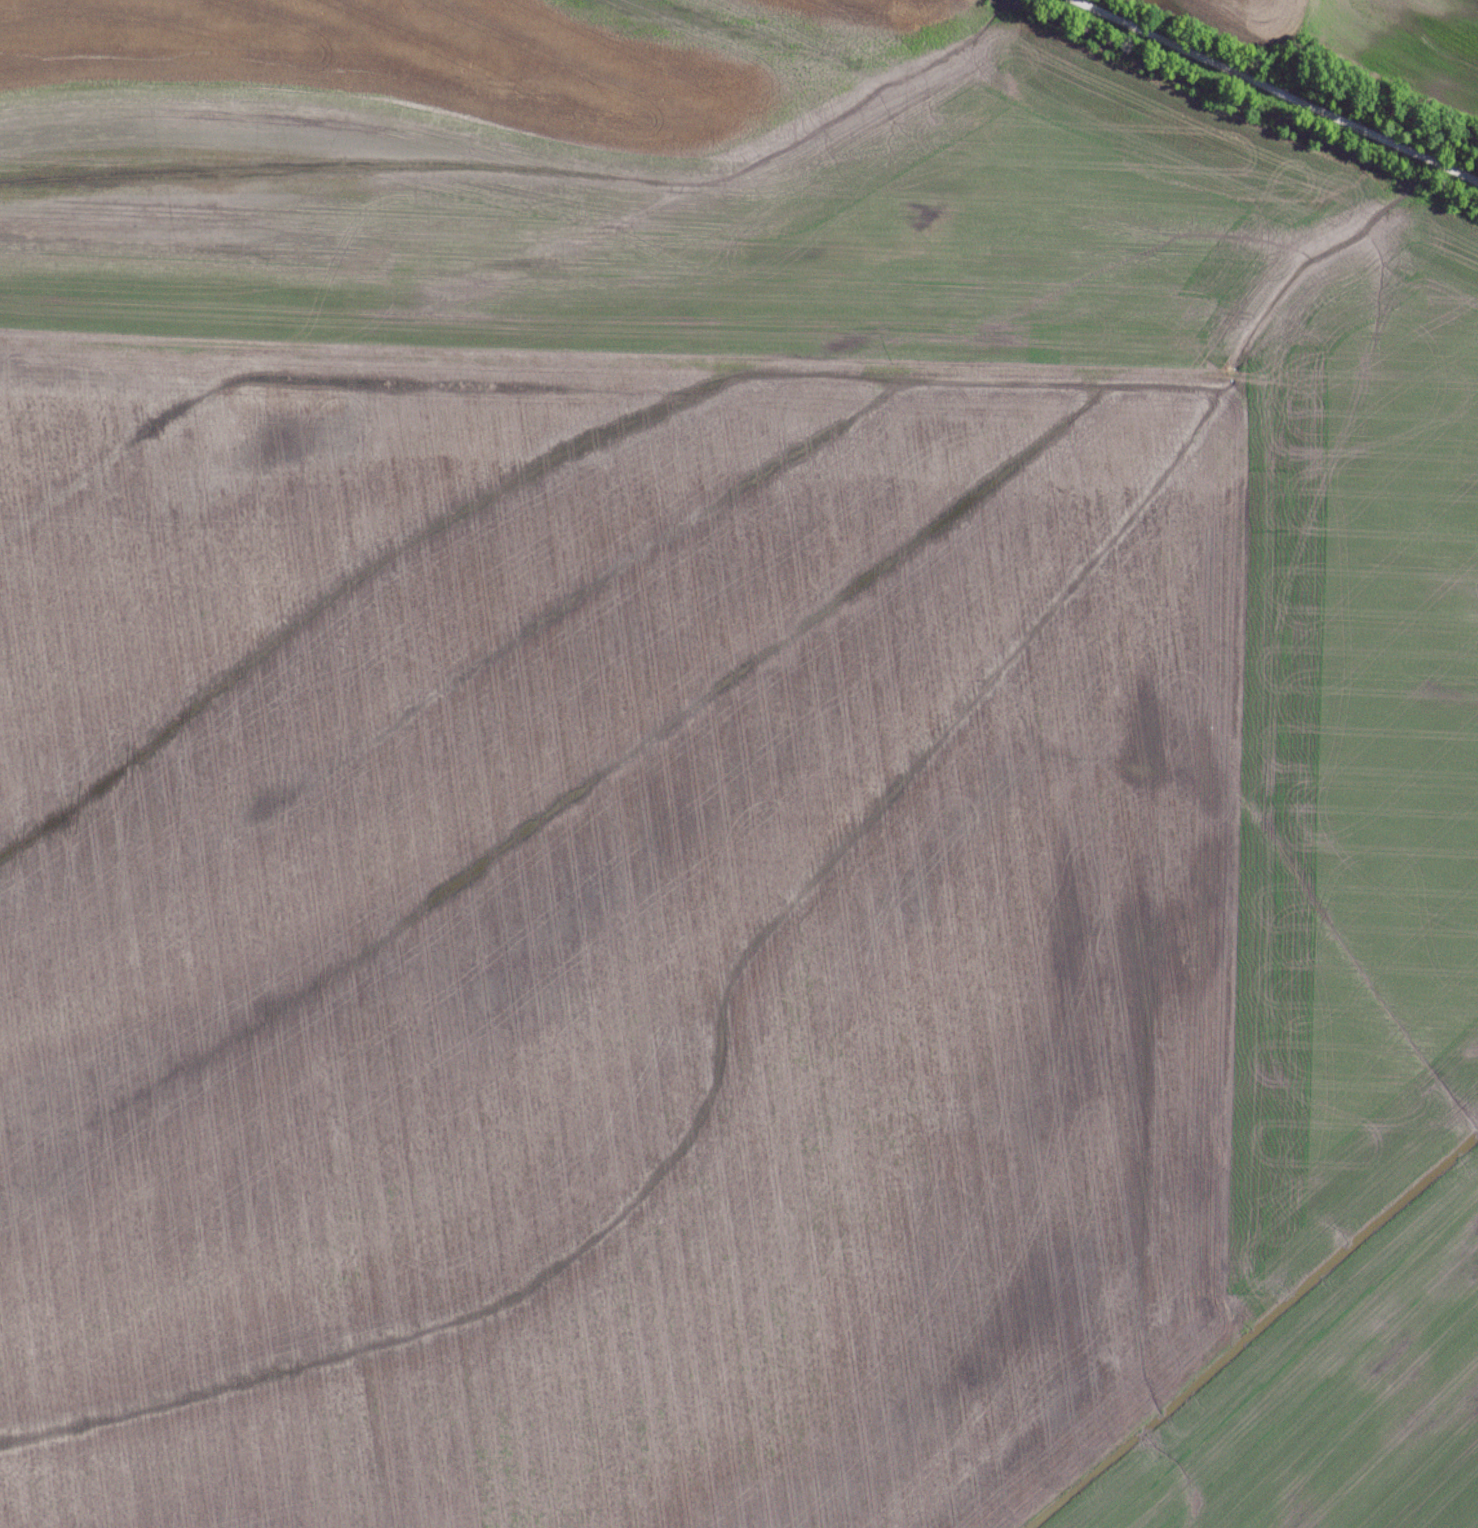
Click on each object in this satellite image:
road: (1273, 91)

